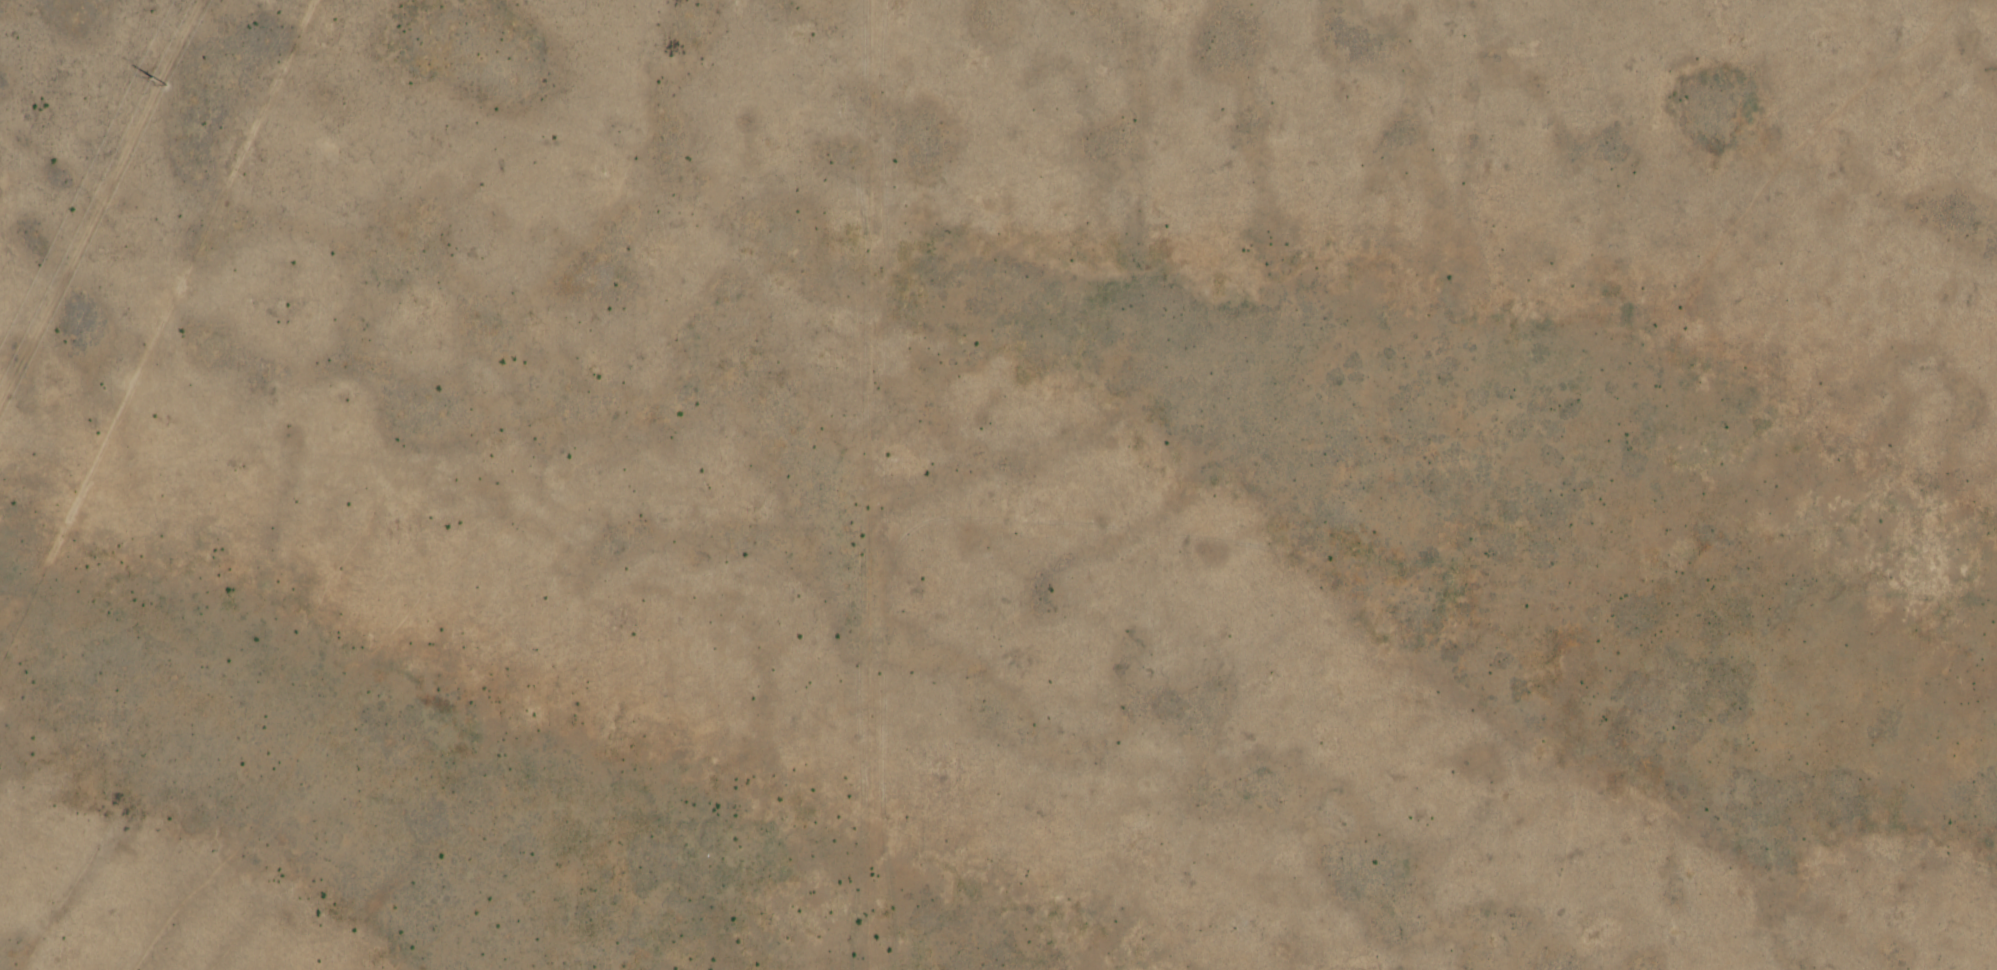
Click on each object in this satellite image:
power tower: (160, 80)

